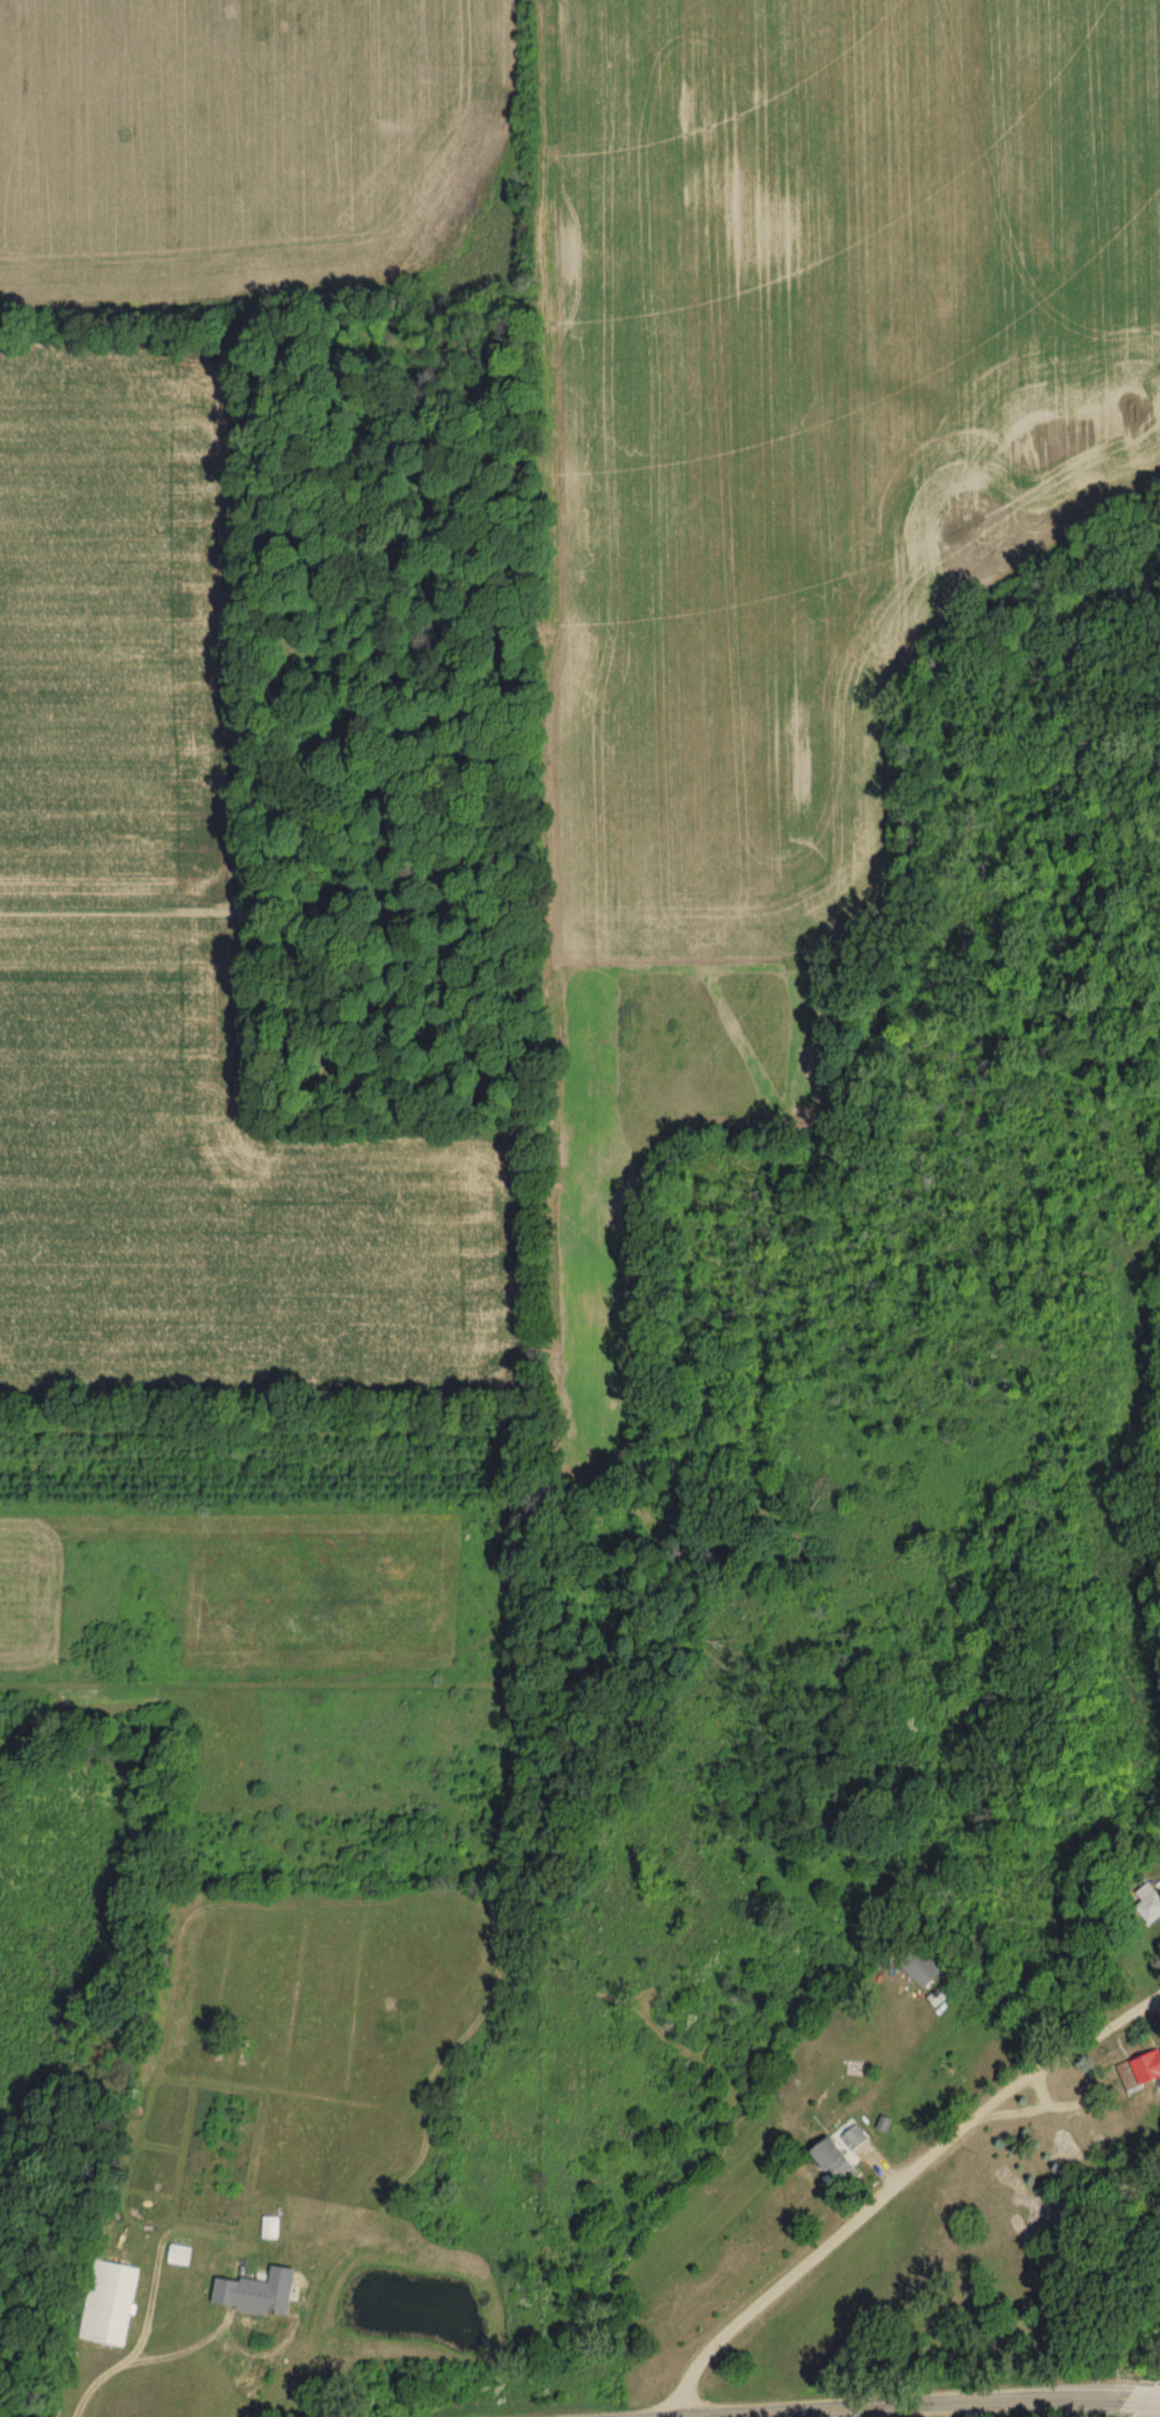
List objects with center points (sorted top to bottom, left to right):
building: (928, 1966)
road: (1155, 1994)
building: (1152, 2064)
building: (848, 2149)
road: (893, 2190)
building: (277, 2224)
building: (289, 2280)
building: (119, 2299)
building: (259, 2319)
road: (165, 2358)
road: (1003, 2411)

